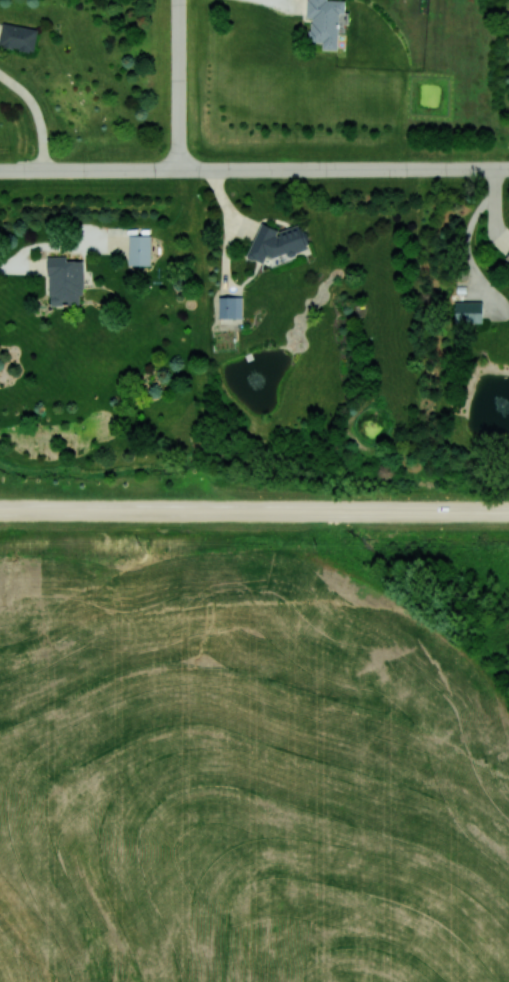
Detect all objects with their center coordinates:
building: (326, 21)
building: (18, 37)
road: (178, 84)
road: (38, 114)
road: (503, 167)
road: (338, 168)
road: (89, 169)
building: (277, 242)
building: (139, 249)
building: (507, 257)
building: (65, 281)
building: (230, 307)
building: (468, 311)
fountain: (500, 404)
road: (254, 512)
crop: (242, 778)

